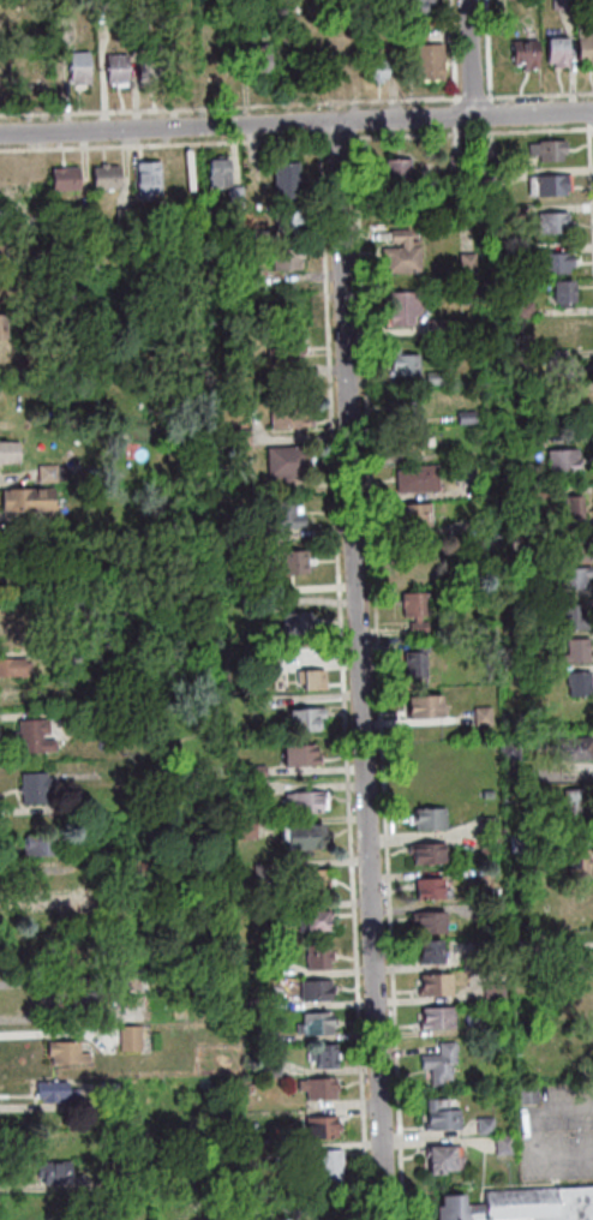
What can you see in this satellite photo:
building: (561, 5)
building: (412, 7)
building: (134, 16)
building: (60, 26)
building: (413, 30)
building: (583, 47)
road: (486, 48)
road: (450, 52)
building: (555, 52)
building: (522, 53)
building: (340, 56)
road: (468, 58)
building: (254, 61)
building: (426, 61)
building: (77, 67)
building: (114, 67)
building: (375, 70)
building: (145, 71)
road: (539, 94)
road: (472, 96)
road: (229, 106)
road: (454, 109)
road: (588, 116)
road: (295, 121)
road: (318, 127)
road: (591, 128)
road: (467, 133)
road: (336, 138)
road: (163, 144)
building: (547, 149)
building: (485, 159)
building: (453, 165)
road: (591, 165)
building: (5, 168)
building: (397, 168)
building: (215, 173)
building: (103, 178)
building: (62, 179)
building: (145, 180)
building: (283, 180)
building: (547, 184)
building: (233, 197)
building: (513, 216)
building: (121, 217)
building: (555, 221)
building: (1, 222)
building: (287, 222)
building: (258, 237)
building: (62, 246)
building: (31, 249)
building: (513, 250)
building: (1, 251)
building: (401, 251)
building: (284, 259)
building: (555, 261)
building: (463, 263)
building: (250, 277)
building: (5, 285)
building: (563, 289)
building: (402, 309)
building: (522, 310)
building: (1, 327)
building: (432, 328)
building: (561, 331)
building: (281, 343)
building: (559, 352)
building: (520, 357)
building: (2, 360)
building: (402, 360)
building: (289, 369)
building: (563, 369)
building: (431, 378)
building: (517, 391)
building: (563, 403)
building: (407, 405)
building: (12, 407)
building: (463, 417)
building: (283, 418)
building: (239, 438)
building: (533, 438)
building: (407, 441)
building: (7, 453)
building: (563, 459)
building: (284, 462)
building: (462, 470)
building: (44, 473)
building: (417, 476)
building: (257, 488)
building: (531, 491)
building: (25, 500)
building: (570, 508)
building: (415, 514)
building: (281, 520)
building: (474, 527)
building: (564, 552)
building: (413, 560)
building: (290, 562)
building: (570, 578)
building: (414, 604)
building: (250, 605)
building: (575, 615)
building: (293, 624)
building: (577, 650)
building: (533, 653)
building: (66, 660)
building: (415, 663)
building: (10, 666)
road: (377, 669)
road: (361, 670)
building: (307, 680)
road: (340, 681)
building: (579, 682)
building: (17, 694)
building: (424, 705)
building: (58, 714)
building: (481, 714)
building: (303, 719)
building: (31, 737)
building: (576, 746)
building: (505, 748)
building: (296, 758)
building: (253, 772)
building: (253, 787)
building: (32, 788)
building: (304, 803)
building: (574, 806)
building: (76, 807)
building: (427, 817)
building: (484, 825)
building: (242, 830)
building: (300, 837)
building: (517, 843)
building: (485, 844)
building: (36, 845)
building: (429, 853)
building: (97, 856)
building: (580, 861)
building: (258, 869)
building: (310, 883)
building: (429, 886)
building: (30, 891)
building: (124, 903)
building: (88, 908)
building: (257, 911)
building: (429, 921)
building: (309, 923)
building: (523, 944)
building: (490, 947)
building: (430, 950)
building: (313, 958)
building: (585, 961)
building: (130, 982)
building: (433, 982)
building: (311, 991)
building: (492, 992)
building: (52, 993)
building: (83, 994)
building: (251, 1004)
building: (436, 1016)
building: (311, 1024)
building: (265, 1036)
building: (126, 1039)
building: (64, 1051)
building: (321, 1057)
building: (441, 1061)
building: (266, 1066)
building: (106, 1086)
building: (315, 1088)
building: (52, 1090)
building: (525, 1094)
building: (438, 1116)
building: (318, 1125)
building: (481, 1125)
street lamp: (539, 1131)
parking lot: (559, 1131)
road: (528, 1134)
building: (507, 1146)
building: (444, 1155)
building: (334, 1164)
building: (61, 1172)
building: (142, 1180)
building: (303, 1204)
building: (523, 1206)
road: (0, 1214)

